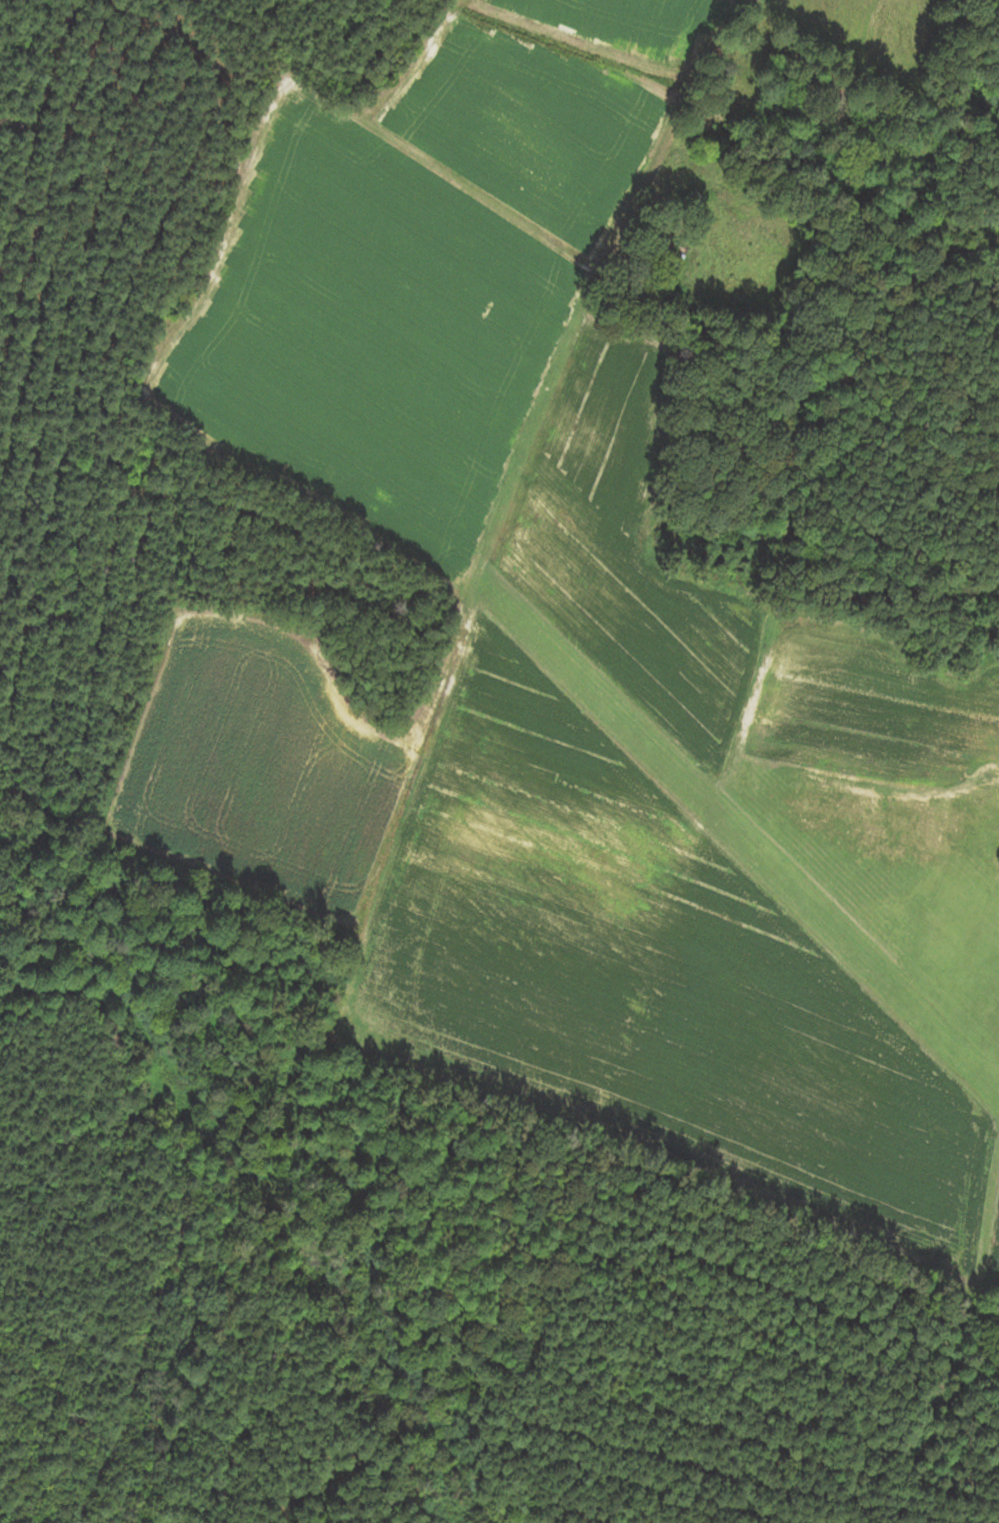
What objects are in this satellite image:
airport runway: (745, 859)

